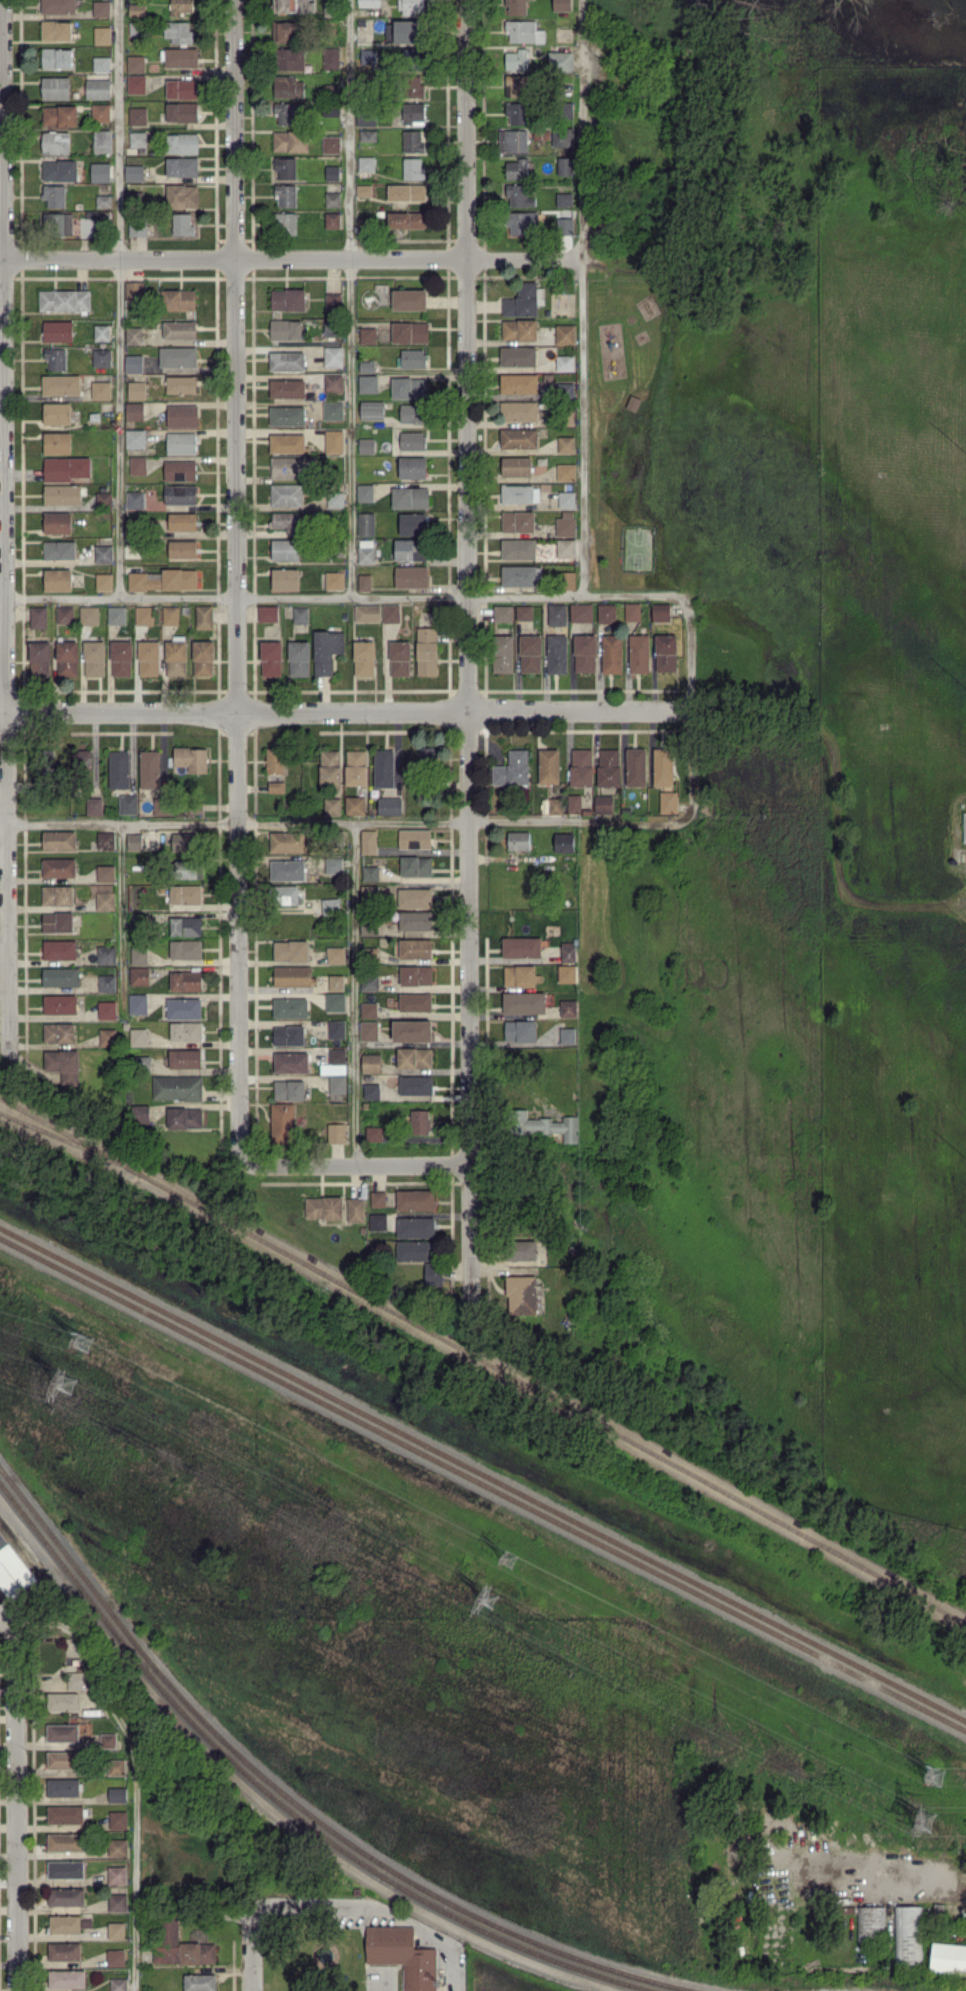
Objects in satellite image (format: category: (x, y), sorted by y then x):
building: (369, 3)
building: (284, 5)
building: (561, 5)
building: (58, 6)
building: (180, 6)
building: (412, 6)
building: (516, 6)
building: (101, 8)
building: (137, 9)
building: (56, 30)
building: (178, 31)
building: (284, 31)
building: (404, 31)
building: (524, 31)
building: (102, 35)
building: (368, 55)
building: (57, 57)
building: (181, 57)
building: (331, 57)
building: (290, 58)
building: (517, 59)
building: (560, 60)
building: (101, 63)
building: (135, 63)
building: (136, 84)
building: (414, 85)
building: (516, 85)
building: (288, 86)
building: (55, 87)
building: (97, 88)
building: (182, 88)
building: (564, 109)
building: (331, 110)
building: (181, 111)
building: (100, 112)
building: (286, 112)
building: (516, 112)
building: (413, 113)
building: (59, 115)
building: (137, 115)
building: (366, 118)
building: (367, 135)
building: (562, 136)
building: (138, 138)
building: (290, 140)
building: (513, 140)
building: (102, 141)
building: (412, 141)
building: (56, 142)
building: (182, 143)
building: (325, 145)
building: (366, 163)
building: (565, 165)
building: (181, 166)
building: (285, 167)
building: (413, 168)
building: (517, 168)
building: (59, 169)
building: (100, 171)
building: (133, 172)
building: (332, 172)
building: (363, 190)
building: (406, 192)
building: (285, 194)
building: (54, 195)
building: (182, 195)
building: (519, 195)
building: (332, 198)
building: (564, 198)
building: (332, 219)
building: (406, 219)
building: (522, 222)
building: (58, 223)
building: (285, 223)
building: (182, 224)
building: (137, 229)
road: (2, 258)
road: (293, 260)
building: (134, 290)
building: (64, 299)
building: (178, 299)
building: (287, 299)
building: (409, 299)
road: (119, 300)
road: (351, 300)
building: (524, 300)
road: (583, 300)
building: (333, 301)
building: (330, 328)
building: (179, 329)
building: (285, 329)
building: (519, 329)
building: (57, 330)
building: (410, 331)
building: (102, 332)
building: (565, 334)
building: (134, 335)
building: (368, 335)
building: (333, 355)
road: (4, 356)
building: (178, 356)
road: (465, 356)
building: (518, 356)
building: (102, 357)
road: (235, 357)
building: (413, 358)
building: (55, 359)
building: (287, 360)
building: (565, 362)
building: (133, 363)
building: (366, 366)
building: (333, 382)
building: (368, 383)
building: (519, 383)
building: (61, 384)
building: (181, 384)
building: (409, 387)
building: (287, 388)
building: (101, 390)
building: (137, 390)
building: (566, 390)
building: (633, 402)
building: (372, 409)
building: (134, 410)
building: (333, 410)
building: (519, 410)
building: (57, 413)
building: (412, 413)
building: (182, 415)
building: (287, 415)
park: (631, 434)
building: (518, 437)
building: (135, 438)
building: (412, 440)
building: (334, 441)
building: (57, 442)
building: (181, 442)
building: (287, 442)
building: (566, 444)
building: (366, 445)
building: (138, 464)
building: (516, 466)
building: (292, 467)
building: (412, 467)
building: (66, 468)
building: (180, 470)
building: (566, 471)
building: (365, 492)
building: (180, 493)
building: (520, 493)
building: (62, 494)
building: (286, 494)
building: (410, 497)
building: (103, 498)
building: (135, 499)
building: (335, 499)
building: (566, 499)
building: (182, 521)
building: (286, 521)
building: (518, 521)
building: (57, 522)
building: (366, 523)
building: (413, 523)
building: (565, 523)
building: (565, 547)
building: (518, 548)
building: (59, 549)
building: (182, 549)
building: (285, 549)
building: (410, 549)
building: (366, 550)
building: (104, 553)
building: (520, 575)
building: (411, 576)
building: (58, 579)
building: (164, 579)
building: (285, 579)
building: (568, 579)
building: (334, 580)
building: (104, 581)
building: (364, 581)
road: (343, 600)
building: (661, 611)
building: (367, 612)
building: (503, 612)
building: (524, 612)
building: (581, 612)
building: (606, 612)
building: (632, 612)
building: (268, 613)
building: (391, 613)
building: (65, 614)
building: (89, 614)
building: (117, 614)
building: (170, 614)
building: (300, 614)
building: (557, 614)
building: (144, 615)
building: (204, 616)
building: (38, 617)
building: (326, 650)
building: (426, 650)
building: (585, 652)
building: (666, 652)
building: (503, 653)
building: (530, 653)
building: (557, 653)
building: (612, 653)
building: (639, 653)
building: (121, 657)
building: (203, 657)
building: (299, 657)
building: (364, 657)
building: (39, 658)
building: (67, 658)
building: (94, 658)
building: (148, 658)
building: (175, 658)
building: (271, 658)
building: (399, 658)
road: (687, 709)
road: (348, 713)
building: (427, 754)
building: (191, 758)
building: (82, 759)
building: (275, 759)
building: (549, 765)
building: (330, 766)
building: (356, 766)
building: (581, 766)
building: (636, 766)
building: (663, 766)
building: (384, 767)
building: (608, 767)
building: (150, 768)
building: (513, 768)
building: (119, 769)
building: (276, 786)
building: (668, 801)
building: (127, 803)
building: (574, 803)
building: (355, 804)
building: (603, 804)
building: (94, 805)
building: (161, 805)
building: (332, 805)
building: (389, 805)
building: (555, 805)
road: (344, 822)
building: (964, 826)
building: (414, 838)
building: (59, 839)
building: (105, 839)
building: (518, 839)
building: (134, 841)
building: (183, 841)
building: (287, 841)
building: (368, 841)
building: (564, 841)
building: (334, 864)
building: (416, 865)
building: (58, 867)
building: (188, 868)
building: (287, 869)
building: (105, 872)
building: (371, 873)
road: (9, 884)
building: (101, 886)
building: (57, 894)
building: (185, 894)
building: (287, 894)
building: (415, 897)
building: (105, 900)
building: (330, 906)
building: (415, 920)
building: (58, 921)
road: (121, 921)
building: (185, 926)
building: (369, 927)
road: (238, 940)
building: (521, 946)
building: (415, 947)
building: (59, 949)
building: (186, 949)
building: (291, 950)
building: (568, 951)
building: (106, 954)
building: (139, 954)
building: (336, 954)
building: (567, 973)
building: (416, 974)
building: (139, 975)
building: (293, 975)
building: (521, 975)
building: (61, 976)
building: (185, 980)
building: (107, 982)
building: (336, 982)
building: (370, 982)
road: (355, 994)
building: (335, 1001)
building: (415, 1001)
building: (524, 1002)
building: (60, 1003)
building: (137, 1003)
building: (290, 1007)
building: (568, 1007)
building: (183, 1008)
building: (107, 1009)
building: (368, 1009)
road: (469, 1009)
building: (336, 1029)
building: (369, 1030)
building: (412, 1030)
building: (520, 1030)
building: (186, 1031)
building: (59, 1032)
building: (289, 1034)
building: (567, 1035)
building: (108, 1036)
building: (138, 1036)
building: (337, 1055)
building: (414, 1057)
building: (184, 1058)
building: (291, 1061)
building: (371, 1062)
building: (63, 1064)
building: (337, 1083)
building: (416, 1084)
building: (177, 1087)
building: (289, 1089)
building: (371, 1091)
building: (140, 1113)
building: (184, 1117)
building: (420, 1121)
building: (283, 1122)
building: (544, 1125)
building: (337, 1132)
building: (374, 1133)
railway: (68, 1139)
road: (354, 1166)
building: (377, 1198)
building: (415, 1199)
building: (323, 1207)
building: (355, 1209)
building: (377, 1221)
building: (415, 1226)
building: (521, 1249)
building: (414, 1250)
building: (433, 1273)
building: (521, 1294)
power tower: (88, 1340)
railway: (482, 1360)
power tower: (71, 1383)
railway: (482, 1475)
railway: (482, 1485)
power tower: (511, 1556)
building: (12, 1571)
power tower: (493, 1598)
road: (7, 1620)
road: (89, 1661)
building: (77, 1680)
building: (61, 1701)
building: (62, 1731)
building: (108, 1740)
building: (63, 1759)
building: (117, 1766)
power tower: (938, 1780)
building: (63, 1786)
building: (117, 1794)
railway: (278, 1800)
railway: (294, 1801)
road: (16, 1805)
building: (65, 1814)
building: (118, 1819)
power tower: (931, 1819)
building: (65, 1841)
building: (118, 1847)
building: (65, 1869)
road: (134, 1870)
building: (117, 1874)
building: (66, 1896)
building: (118, 1901)
road: (313, 1906)
building: (870, 1922)
building: (65, 1923)
building: (116, 1930)
building: (907, 1934)
building: (168, 1939)
road: (250, 1948)
building: (64, 1950)
building: (198, 1952)
building: (404, 1955)
building: (115, 1957)
building: (948, 1957)
road: (454, 1969)
building: (67, 1978)
building: (200, 1982)
road: (385, 1982)
building: (118, 1984)

